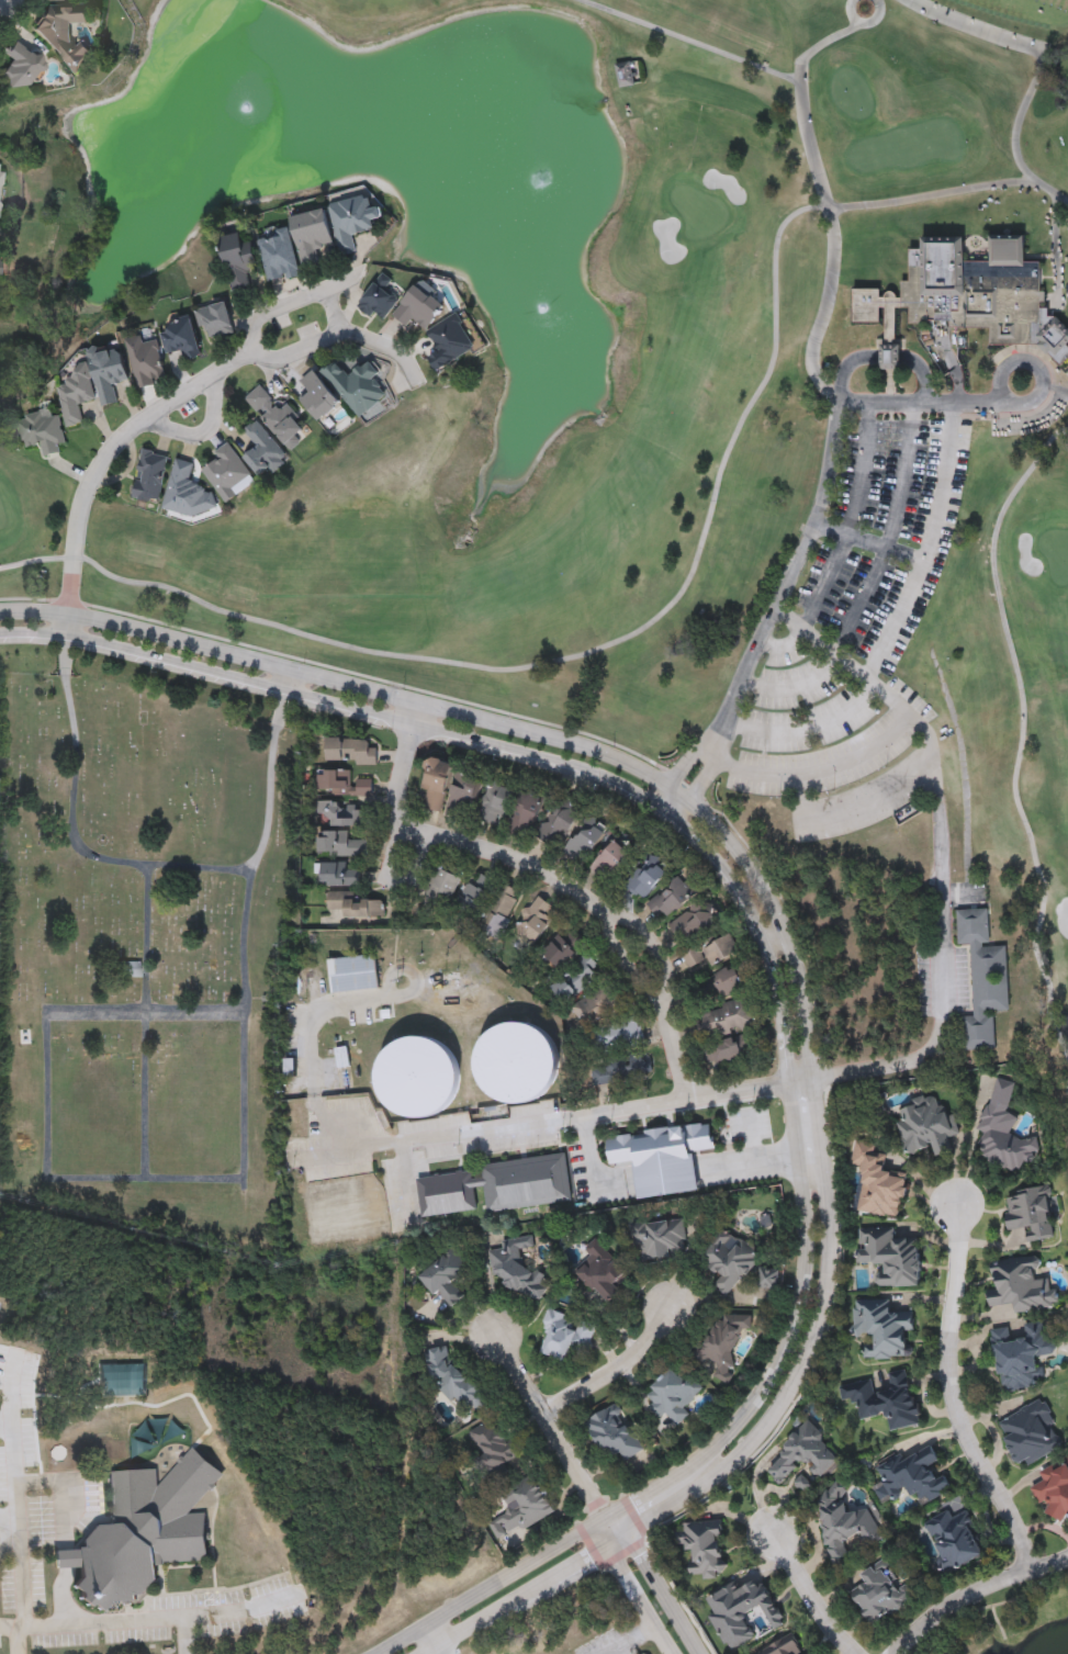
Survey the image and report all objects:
building: (66, 34)
building: (20, 68)
building: (628, 77)
park: (852, 94)
fountain: (369, 110)
fountain: (250, 111)
road: (813, 150)
building: (0, 183)
fountain: (544, 203)
park: (699, 212)
building: (353, 223)
building: (0, 237)
building: (313, 239)
building: (280, 259)
building: (238, 262)
building: (379, 300)
building: (968, 300)
park: (518, 310)
building: (418, 311)
fountain: (536, 314)
building: (215, 322)
road: (259, 325)
building: (181, 340)
road: (370, 345)
building: (450, 345)
road: (891, 358)
building: (148, 362)
road: (846, 368)
building: (109, 373)
road: (922, 375)
building: (357, 389)
building: (76, 392)
building: (318, 398)
road: (992, 404)
building: (274, 416)
building: (41, 434)
building: (263, 453)
road: (108, 458)
building: (228, 475)
building: (150, 477)
building: (187, 494)
park: (2, 519)
road: (932, 542)
road: (870, 543)
road: (843, 544)
park: (1056, 554)
road: (865, 596)
road: (822, 643)
road: (560, 660)
road: (289, 682)
park: (1011, 717)
road: (806, 728)
road: (1021, 738)
building: (350, 753)
road: (408, 762)
road: (816, 770)
building: (333, 783)
building: (435, 784)
building: (362, 789)
road: (677, 796)
building: (463, 797)
road: (874, 801)
building: (494, 805)
building: (853, 814)
building: (526, 815)
building: (336, 817)
building: (557, 825)
building: (584, 843)
building: (338, 846)
building: (880, 851)
road: (396, 854)
building: (611, 864)
road: (146, 865)
building: (339, 876)
building: (644, 880)
building: (440, 892)
building: (473, 899)
building: (671, 901)
road: (596, 905)
building: (353, 907)
building: (499, 911)
building: (536, 923)
building: (690, 926)
road: (783, 938)
road: (797, 943)
road: (655, 946)
building: (562, 949)
park: (143, 952)
building: (712, 953)
road: (779, 970)
building: (342, 981)
building: (573, 981)
building: (983, 982)
building: (720, 987)
building: (595, 1009)
building: (723, 1021)
building: (728, 1051)
road: (307, 1057)
building: (499, 1071)
building: (612, 1078)
building: (401, 1085)
road: (752, 1089)
road: (538, 1122)
building: (926, 1130)
building: (649, 1163)
road: (816, 1174)
building: (877, 1186)
building: (487, 1191)
building: (330, 1215)
building: (1031, 1216)
building: (1023, 1290)
road: (4, 1310)
road: (618, 1370)
road: (962, 1393)
road: (554, 1422)
road: (52, 1482)
building: (132, 1539)
road: (938, 1554)
road: (22, 1572)
road: (662, 1579)
road: (641, 1587)
road: (975, 1590)
road: (812, 1597)
road: (49, 1600)
road: (222, 1616)
road: (90, 1625)
road: (9, 1631)
road: (632, 1638)
road: (428, 1643)

